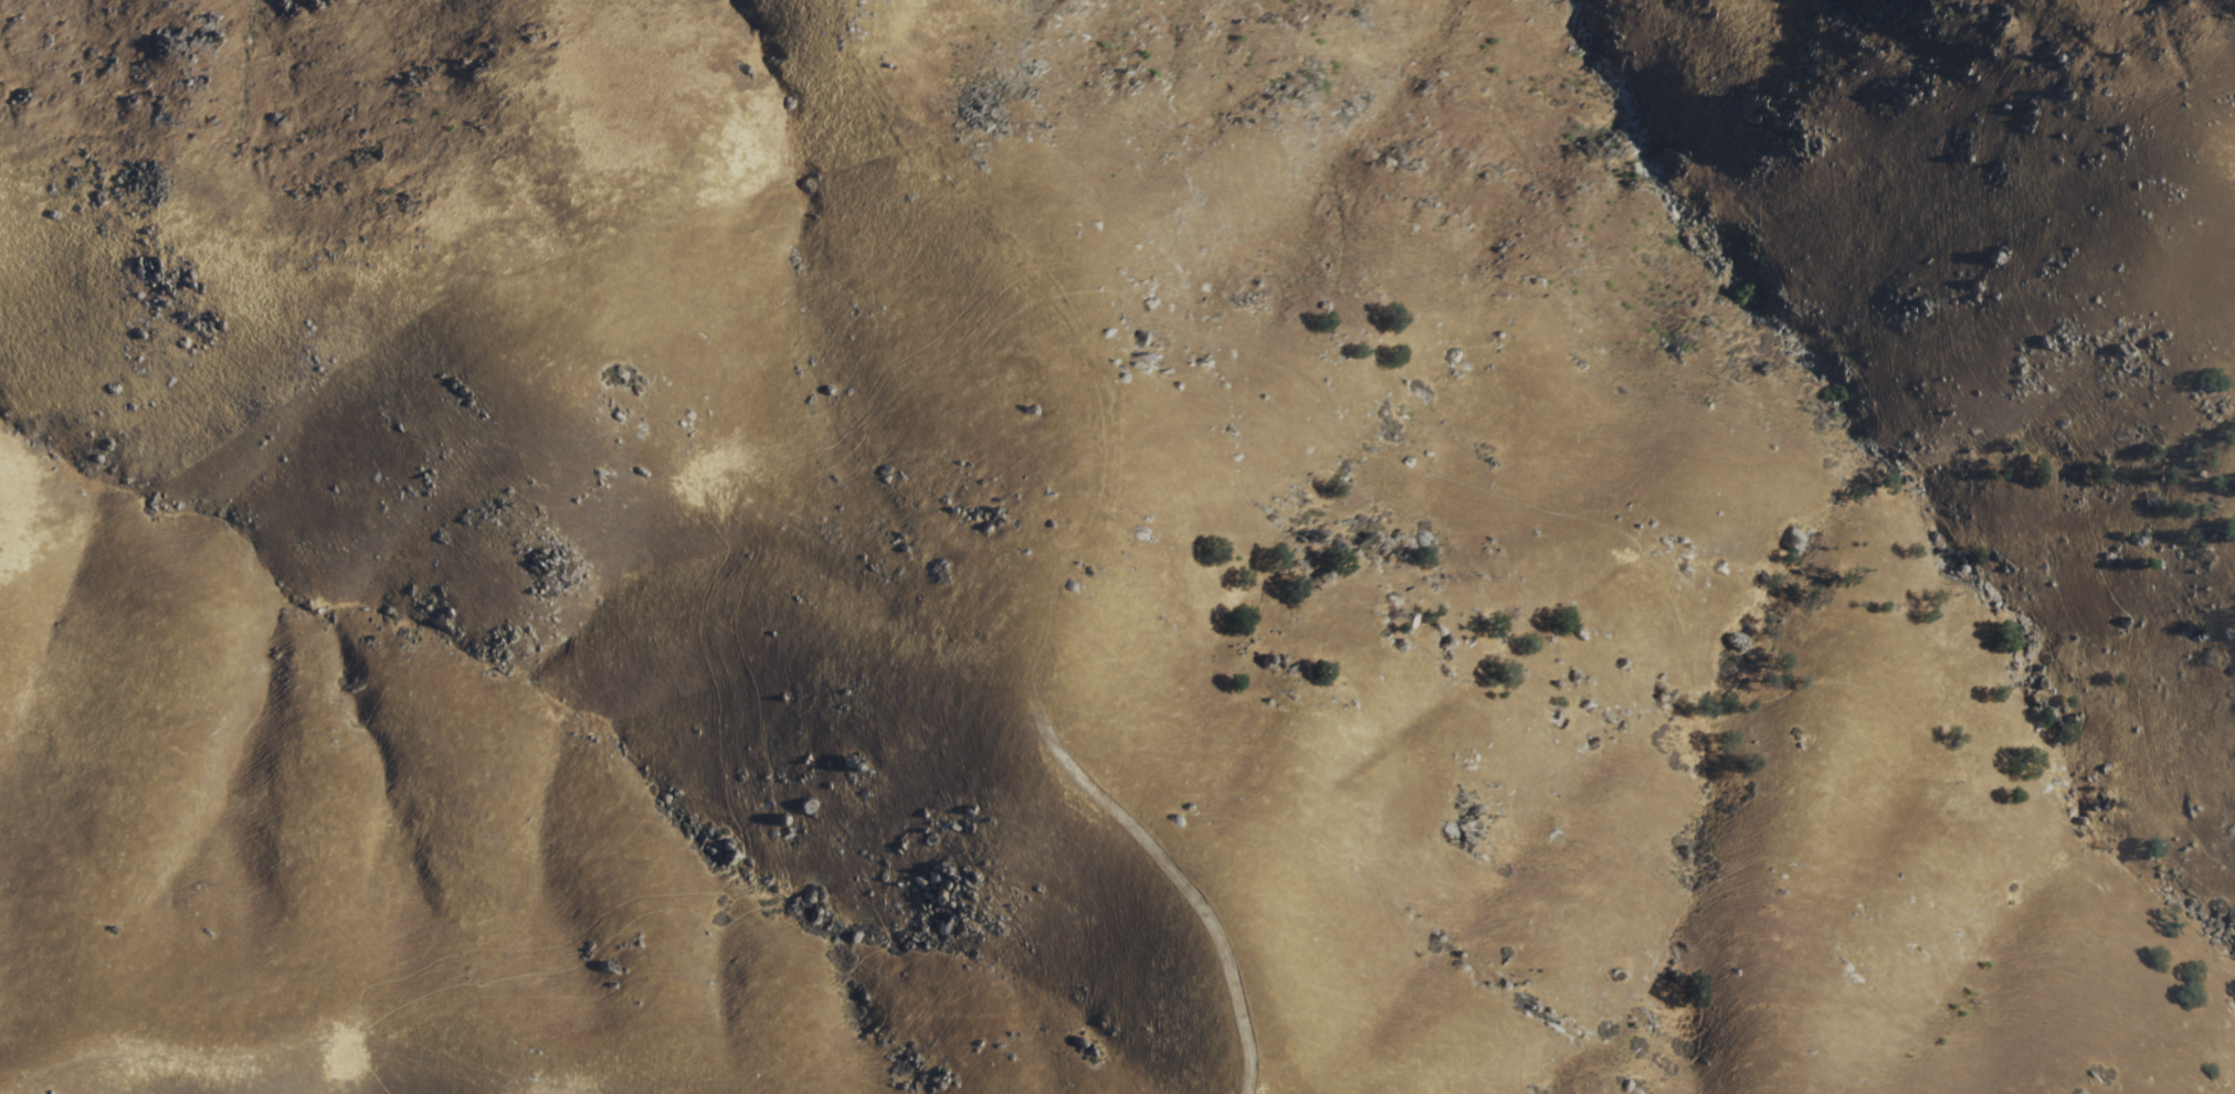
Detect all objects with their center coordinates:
building: (1271, 665)

